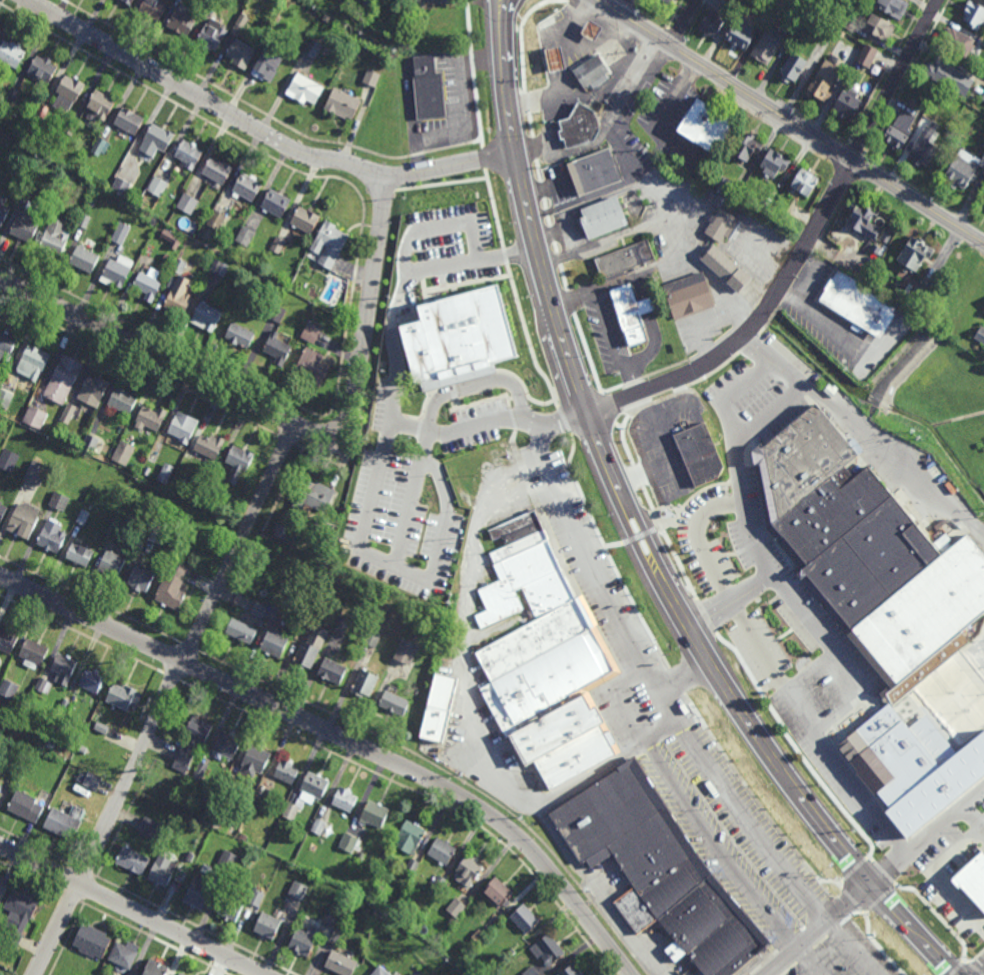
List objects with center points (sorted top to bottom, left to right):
building: (128, 1)
building: (673, 2)
road: (618, 6)
building: (893, 6)
building: (153, 8)
road: (502, 11)
road: (507, 11)
building: (974, 14)
road: (676, 15)
building: (327, 17)
road: (573, 17)
building: (183, 19)
building: (242, 19)
road: (683, 23)
building: (712, 23)
building: (848, 23)
building: (795, 26)
building: (880, 26)
building: (592, 29)
building: (740, 33)
building: (212, 35)
road: (558, 35)
road: (666, 36)
building: (361, 39)
building: (958, 41)
building: (767, 45)
building: (313, 48)
building: (12, 52)
building: (241, 53)
building: (867, 55)
building: (555, 58)
building: (267, 65)
building: (794, 67)
building: (42, 68)
road: (886, 70)
building: (398, 72)
building: (592, 73)
road: (472, 74)
road: (630, 74)
road: (908, 76)
building: (950, 76)
building: (371, 77)
building: (820, 87)
building: (305, 88)
road: (892, 88)
building: (429, 89)
road: (598, 91)
building: (68, 92)
building: (12, 94)
building: (939, 97)
building: (983, 98)
building: (344, 102)
building: (848, 103)
building: (924, 105)
building: (99, 106)
building: (42, 111)
building: (129, 120)
road: (789, 120)
building: (581, 124)
building: (708, 124)
building: (71, 127)
building: (900, 130)
road: (260, 131)
building: (156, 140)
building: (100, 147)
building: (746, 147)
road: (845, 147)
building: (923, 152)
building: (189, 153)
road: (567, 153)
building: (983, 154)
road: (624, 156)
road: (864, 159)
road: (482, 160)
building: (775, 164)
building: (218, 170)
building: (964, 170)
building: (3, 172)
building: (594, 172)
building: (73, 181)
building: (804, 183)
building: (120, 186)
building: (724, 186)
building: (158, 187)
building: (247, 188)
building: (25, 194)
building: (983, 200)
building: (187, 203)
building: (276, 203)
building: (983, 203)
building: (4, 213)
building: (604, 218)
building: (305, 219)
building: (152, 220)
building: (216, 220)
building: (84, 221)
building: (863, 221)
building: (27, 222)
road: (666, 225)
building: (722, 225)
road: (437, 229)
building: (121, 233)
building: (245, 236)
building: (54, 237)
building: (171, 239)
building: (329, 243)
building: (277, 245)
building: (877, 248)
building: (915, 253)
building: (626, 258)
building: (84, 259)
road: (471, 261)
road: (661, 264)
building: (180, 266)
building: (219, 267)
building: (307, 269)
building: (726, 269)
building: (117, 272)
building: (146, 287)
road: (591, 293)
building: (920, 295)
building: (178, 296)
building: (689, 296)
road: (571, 300)
building: (860, 304)
road: (645, 306)
building: (276, 313)
building: (630, 313)
building: (206, 315)
road: (772, 316)
road: (824, 323)
road: (763, 328)
road: (749, 331)
building: (311, 332)
building: (240, 335)
building: (980, 335)
building: (465, 337)
road: (752, 340)
building: (7, 342)
building: (278, 350)
road: (649, 350)
building: (32, 362)
building: (313, 366)
dam: (902, 370)
road: (634, 378)
building: (63, 380)
road: (747, 381)
road: (702, 382)
road: (475, 387)
building: (93, 390)
building: (5, 397)
building: (122, 399)
building: (68, 412)
road: (769, 412)
building: (35, 416)
building: (150, 416)
road: (285, 418)
road: (398, 420)
road: (564, 422)
building: (182, 427)
road: (866, 432)
building: (36, 437)
building: (91, 443)
building: (209, 445)
building: (123, 451)
building: (700, 453)
building: (154, 455)
road: (318, 455)
building: (8, 458)
building: (239, 461)
building: (36, 470)
road: (286, 479)
building: (215, 485)
building: (317, 494)
building: (59, 500)
building: (2, 509)
building: (83, 516)
building: (23, 519)
building: (116, 529)
building: (154, 531)
building: (282, 531)
building: (51, 535)
road: (640, 539)
building: (867, 550)
building: (80, 552)
road: (610, 555)
road: (762, 561)
building: (111, 563)
road: (402, 566)
building: (140, 577)
building: (172, 586)
road: (730, 601)
building: (259, 609)
building: (274, 611)
road: (733, 611)
building: (378, 614)
building: (307, 623)
building: (341, 623)
building: (241, 630)
building: (372, 637)
building: (7, 639)
building: (274, 641)
building: (407, 650)
building: (307, 651)
building: (33, 652)
building: (547, 656)
building: (63, 667)
building: (332, 670)
road: (683, 678)
building: (91, 680)
building: (363, 682)
building: (45, 686)
building: (8, 688)
building: (121, 695)
road: (163, 698)
road: (620, 700)
building: (394, 701)
building: (66, 704)
building: (948, 705)
building: (439, 706)
road: (674, 720)
building: (102, 727)
road: (474, 730)
road: (659, 731)
road: (343, 736)
building: (192, 742)
building: (228, 744)
building: (891, 754)
building: (255, 759)
building: (286, 770)
building: (200, 771)
building: (80, 777)
road: (588, 777)
building: (92, 781)
building: (0, 787)
building: (308, 793)
building: (937, 794)
building: (171, 797)
road: (857, 797)
building: (345, 798)
building: (25, 806)
building: (220, 811)
building: (374, 814)
building: (65, 821)
road: (974, 822)
building: (233, 825)
building: (319, 826)
building: (151, 828)
building: (244, 836)
building: (410, 836)
road: (929, 841)
building: (350, 842)
building: (442, 851)
building: (190, 852)
building: (205, 856)
building: (361, 857)
road: (729, 859)
building: (132, 860)
building: (229, 860)
building: (412, 866)
building: (658, 870)
building: (162, 871)
building: (467, 872)
road: (937, 877)
building: (973, 880)
building: (439, 882)
traffic signals: (871, 885)
building: (202, 887)
building: (299, 889)
building: (3, 890)
building: (499, 891)
building: (256, 897)
building: (474, 901)
building: (456, 907)
building: (231, 908)
road: (132, 909)
building: (25, 917)
building: (525, 918)
building: (330, 919)
building: (268, 925)
road: (818, 929)
building: (477, 937)
building: (305, 939)
building: (92, 941)
building: (514, 949)
building: (548, 949)
building: (124, 954)
building: (341, 963)
building: (156, 967)
building: (425, 967)
building: (571, 970)
road: (978, 970)
building: (381, 971)
building: (530, 971)
road: (813, 973)
building: (182, 974)

